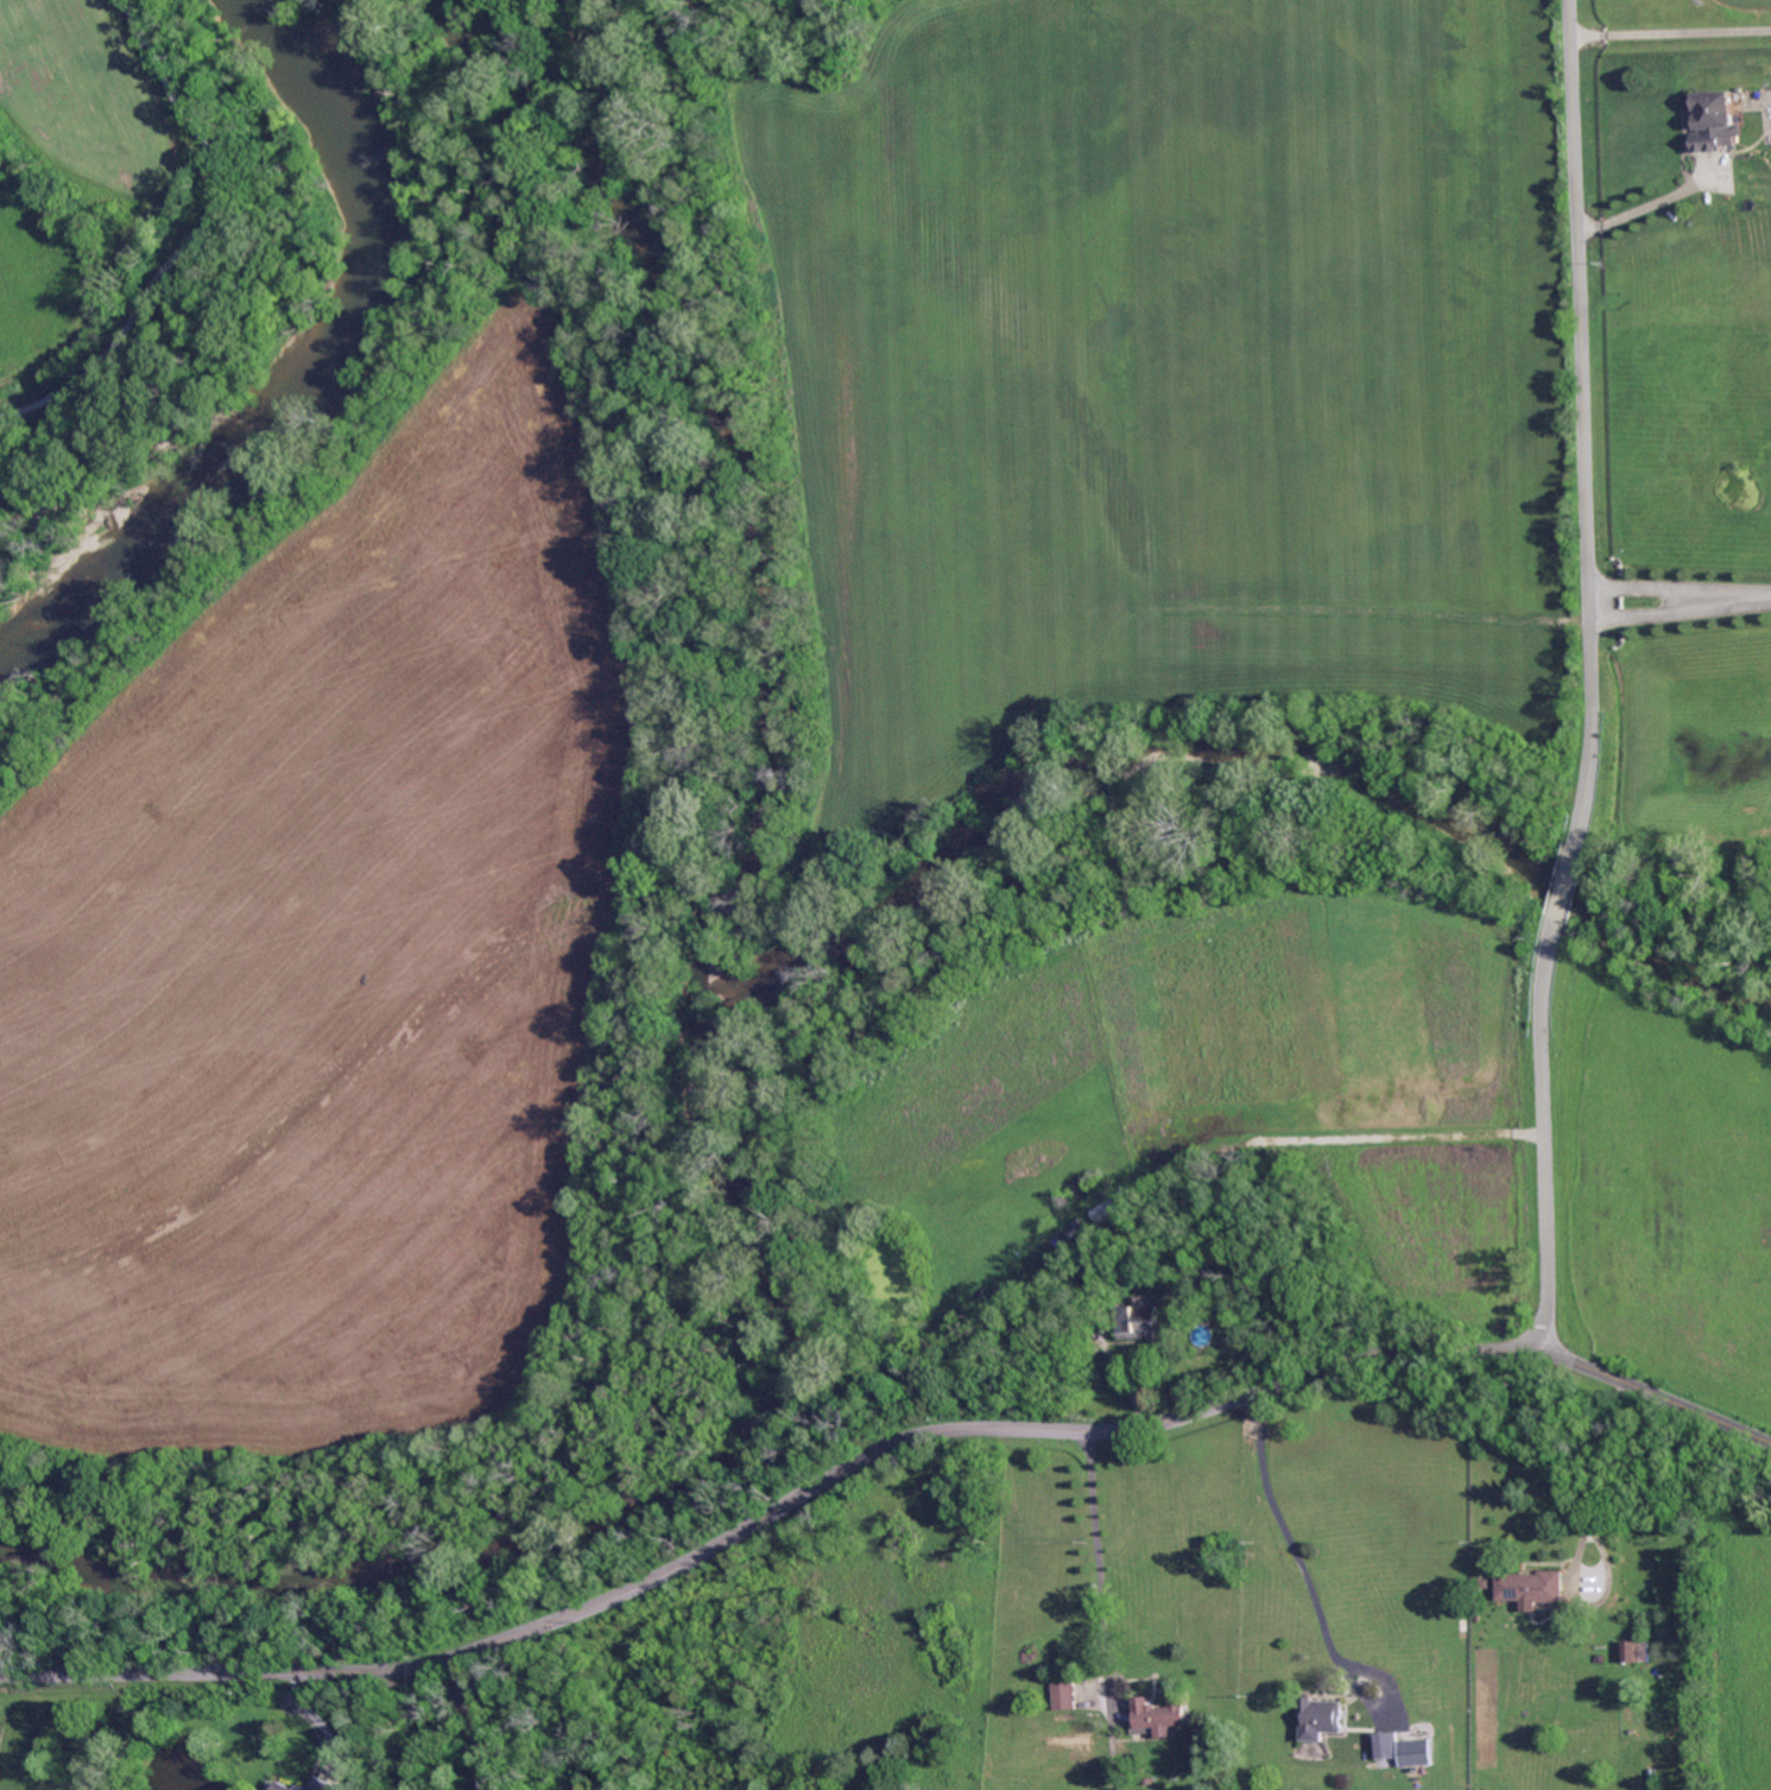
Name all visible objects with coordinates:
road: (1668, 31)
building: (1715, 122)
road: (1639, 207)
road: (192, 239)
river: (302, 349)
road: (1676, 584)
road: (1589, 681)
park: (362, 912)
river: (711, 1030)
building: (1117, 1238)
building: (1209, 1257)
building: (1056, 1299)
building: (1138, 1322)
road: (1656, 1393)
road: (1602, 1470)
road: (770, 1516)
road: (1292, 1548)
road: (1089, 1561)
building: (1531, 1586)
building: (1631, 1652)
building: (1062, 1696)
building: (1157, 1713)
building: (1317, 1719)
building: (1391, 1745)
building: (1412, 1754)
building: (327, 1785)
building: (274, 1786)
building: (285, 1786)

